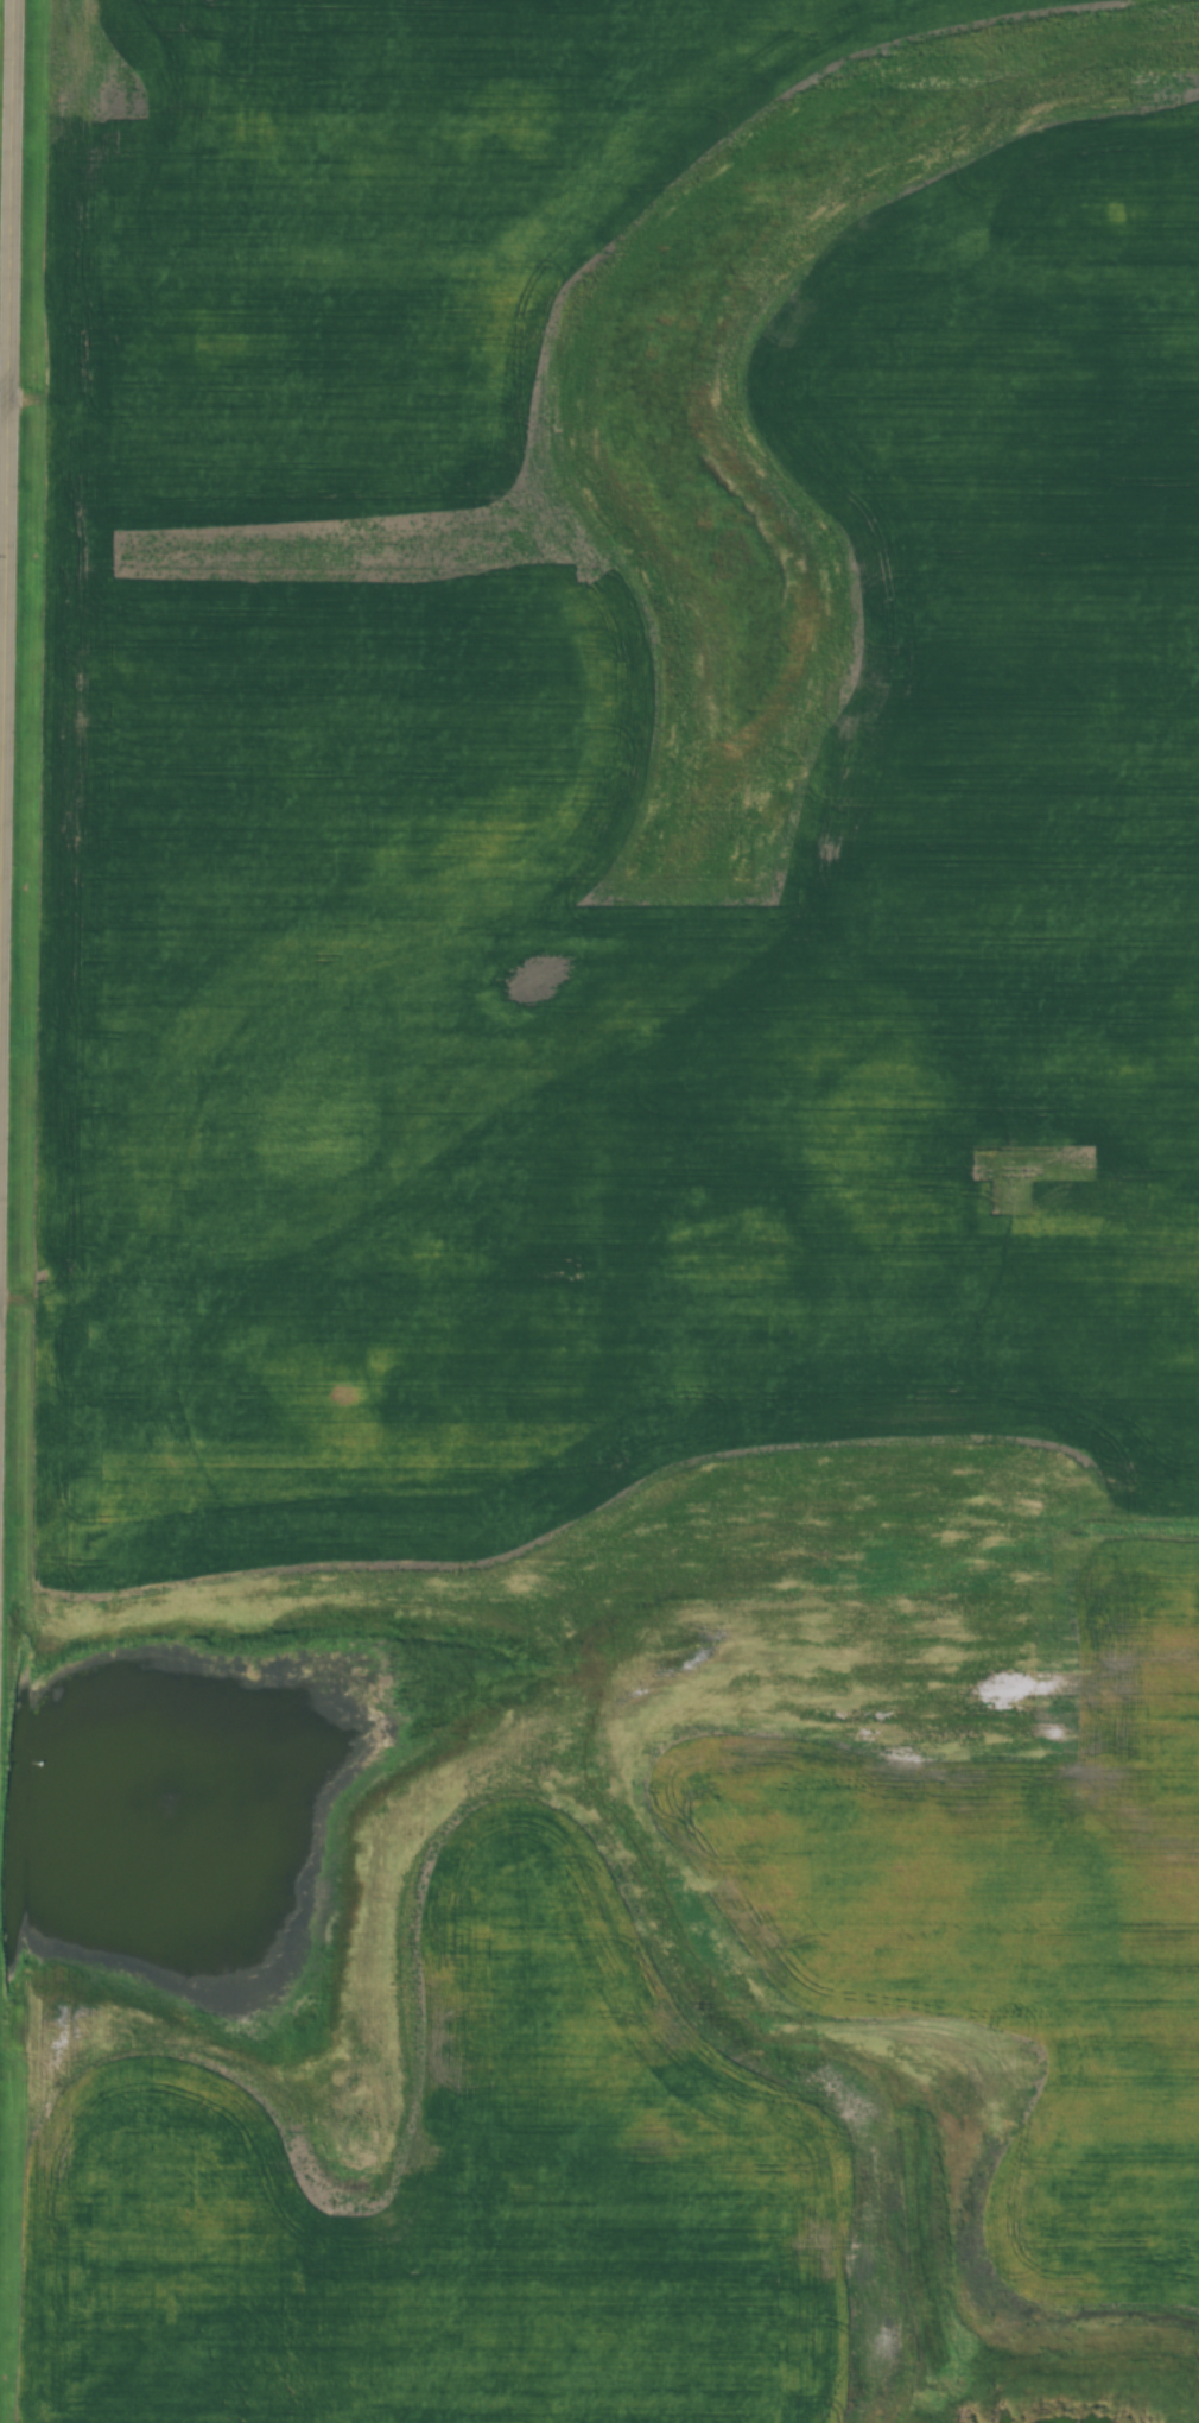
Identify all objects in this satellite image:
road: (6, 537)

